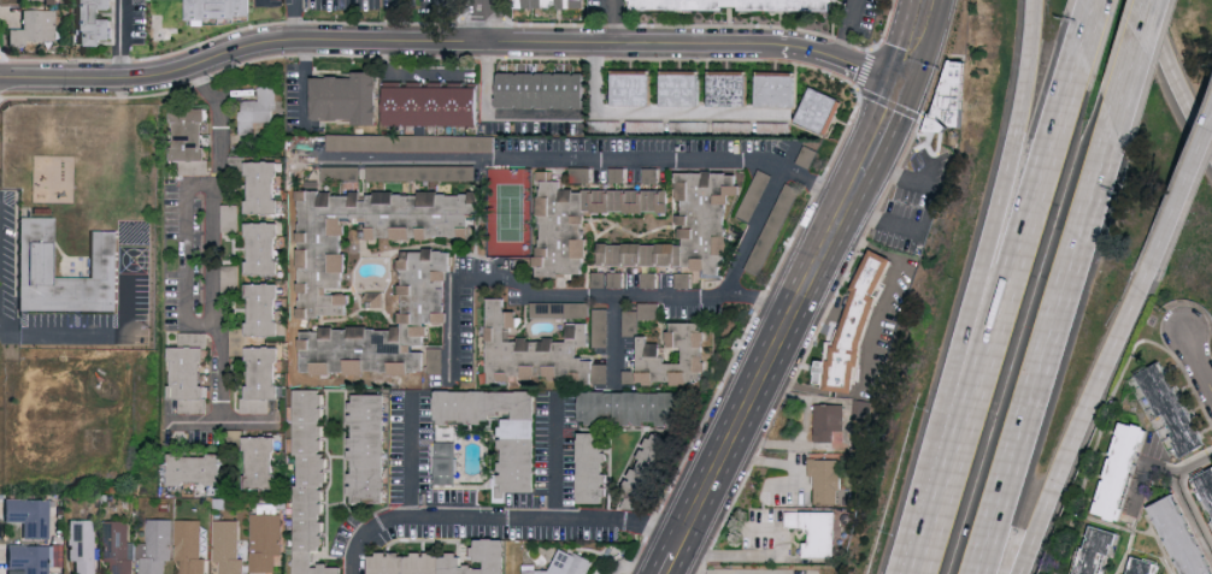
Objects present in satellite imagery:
road: (263, 2)
building: (553, 2)
building: (741, 5)
road: (439, 7)
building: (222, 8)
road: (395, 19)
road: (483, 20)
road: (611, 20)
building: (95, 22)
building: (35, 26)
road: (849, 29)
road: (122, 39)
road: (452, 40)
road: (1092, 40)
road: (913, 43)
road: (1142, 59)
road: (1169, 78)
road: (305, 79)
building: (635, 88)
building: (683, 88)
building: (731, 88)
building: (779, 89)
building: (545, 90)
building: (348, 97)
building: (433, 102)
building: (945, 107)
building: (258, 108)
building: (822, 111)
road: (498, 112)
road: (654, 112)
road: (881, 131)
building: (190, 141)
building: (411, 142)
road: (540, 161)
building: (422, 172)
building: (581, 173)
building: (617, 173)
building: (651, 174)
road: (913, 181)
building: (264, 185)
road: (857, 187)
road: (1182, 193)
road: (1010, 194)
building: (229, 217)
road: (882, 217)
building: (584, 219)
road: (757, 223)
building: (687, 226)
building: (367, 232)
road: (1025, 233)
building: (264, 247)
road: (186, 252)
parking lot: (6, 255)
building: (34, 256)
road: (213, 264)
building: (607, 278)
building: (683, 279)
road: (535, 297)
building: (264, 308)
building: (559, 308)
building: (648, 309)
building: (630, 321)
building: (392, 326)
building: (600, 327)
building: (861, 330)
road: (46, 339)
road: (613, 344)
road: (1055, 345)
building: (541, 351)
building: (652, 353)
road: (771, 359)
road: (1199, 362)
building: (190, 372)
building: (261, 378)
building: (635, 406)
building: (1173, 406)
road: (1084, 420)
road: (248, 424)
building: (829, 425)
building: (371, 446)
building: (520, 455)
road: (410, 456)
road: (555, 457)
building: (263, 461)
building: (446, 461)
road: (790, 463)
building: (594, 466)
building: (196, 467)
building: (653, 467)
building: (1125, 471)
road: (1143, 471)
building: (826, 479)
road: (942, 480)
building: (1207, 481)
building: (313, 483)
road: (1179, 499)
building: (29, 514)
road: (504, 520)
building: (819, 529)
building: (1184, 534)
road: (683, 539)
building: (265, 540)
building: (82, 544)
building: (188, 545)
building: (117, 546)
building: (155, 546)
building: (228, 546)
building: (1100, 550)
road: (765, 555)
building: (33, 557)
building: (443, 560)
building: (563, 564)
road: (670, 564)
building: (1143, 566)

